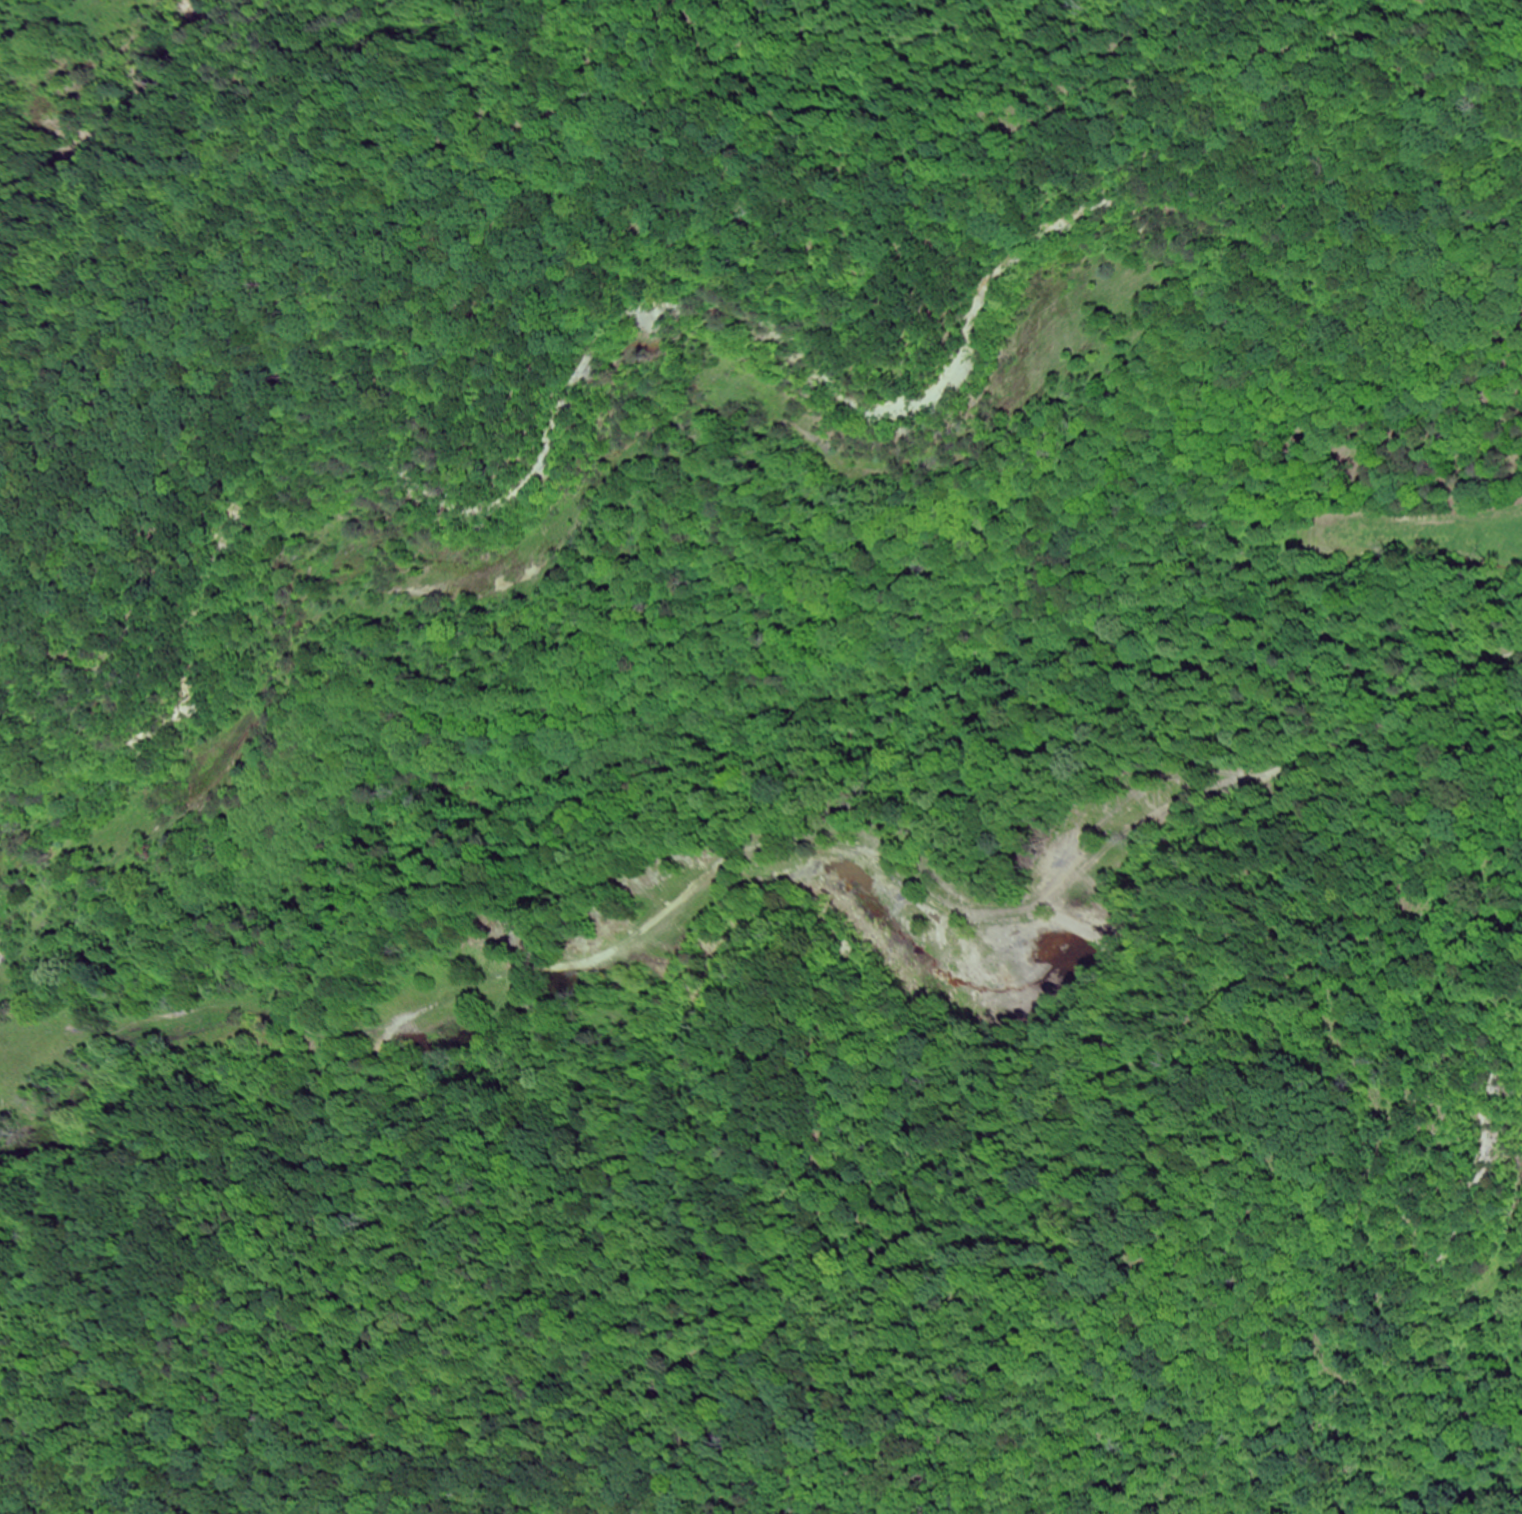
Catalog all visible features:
road: (1269, 36)

